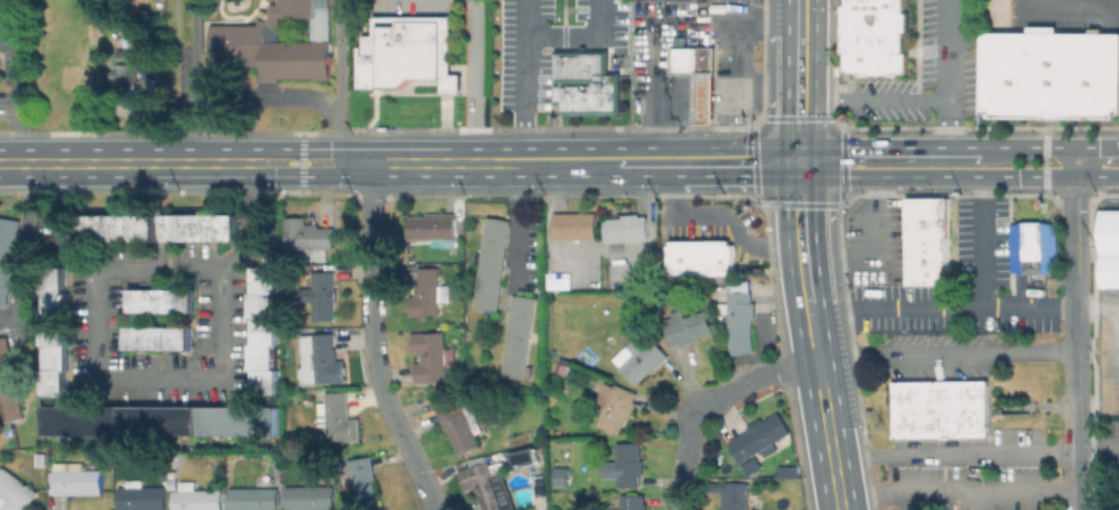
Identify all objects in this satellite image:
road: (1076, 3)
road: (519, 15)
road: (801, 18)
road: (745, 29)
building: (138, 36)
building: (876, 36)
building: (275, 42)
road: (519, 43)
building: (411, 50)
road: (194, 51)
road: (338, 57)
building: (690, 59)
road: (950, 73)
building: (1051, 75)
building: (126, 77)
road: (472, 80)
road: (755, 83)
building: (587, 84)
road: (702, 89)
building: (702, 97)
road: (800, 97)
road: (268, 98)
road: (875, 99)
road: (668, 115)
road: (200, 131)
road: (335, 138)
road: (1098, 145)
road: (938, 147)
traffic signals: (800, 160)
road: (705, 161)
road: (1078, 161)
road: (185, 162)
road: (491, 162)
road: (1047, 162)
road: (1098, 175)
road: (937, 176)
road: (373, 210)
road: (521, 220)
building: (431, 225)
building: (574, 225)
building: (202, 228)
building: (120, 229)
building: (628, 230)
road: (801, 232)
building: (308, 234)
building: (928, 240)
building: (1034, 246)
building: (1110, 247)
building: (7, 253)
building: (701, 257)
building: (491, 262)
road: (154, 269)
road: (373, 292)
building: (429, 292)
building: (321, 295)
building: (161, 300)
road: (961, 308)
road: (1030, 308)
building: (742, 324)
building: (686, 326)
building: (55, 330)
building: (264, 330)
road: (813, 334)
building: (519, 336)
building: (158, 337)
road: (1080, 343)
road: (374, 352)
road: (949, 354)
building: (433, 355)
building: (322, 357)
building: (640, 357)
building: (562, 367)
road: (774, 372)
road: (158, 377)
building: (8, 386)
building: (440, 395)
building: (618, 408)
building: (940, 409)
building: (338, 415)
building: (163, 420)
building: (461, 425)
road: (829, 436)
building: (761, 440)
road: (690, 442)
road: (1100, 444)
road: (407, 445)
road: (957, 455)
building: (521, 456)
building: (40, 458)
building: (627, 463)
building: (279, 464)
building: (788, 473)
building: (75, 477)
building: (361, 477)
building: (563, 477)
building: (488, 486)
building: (541, 487)
road: (959, 488)
building: (14, 491)
building: (735, 495)
building: (311, 497)
building: (196, 498)
building: (255, 498)
building: (142, 499)
building: (542, 501)
building: (632, 502)

